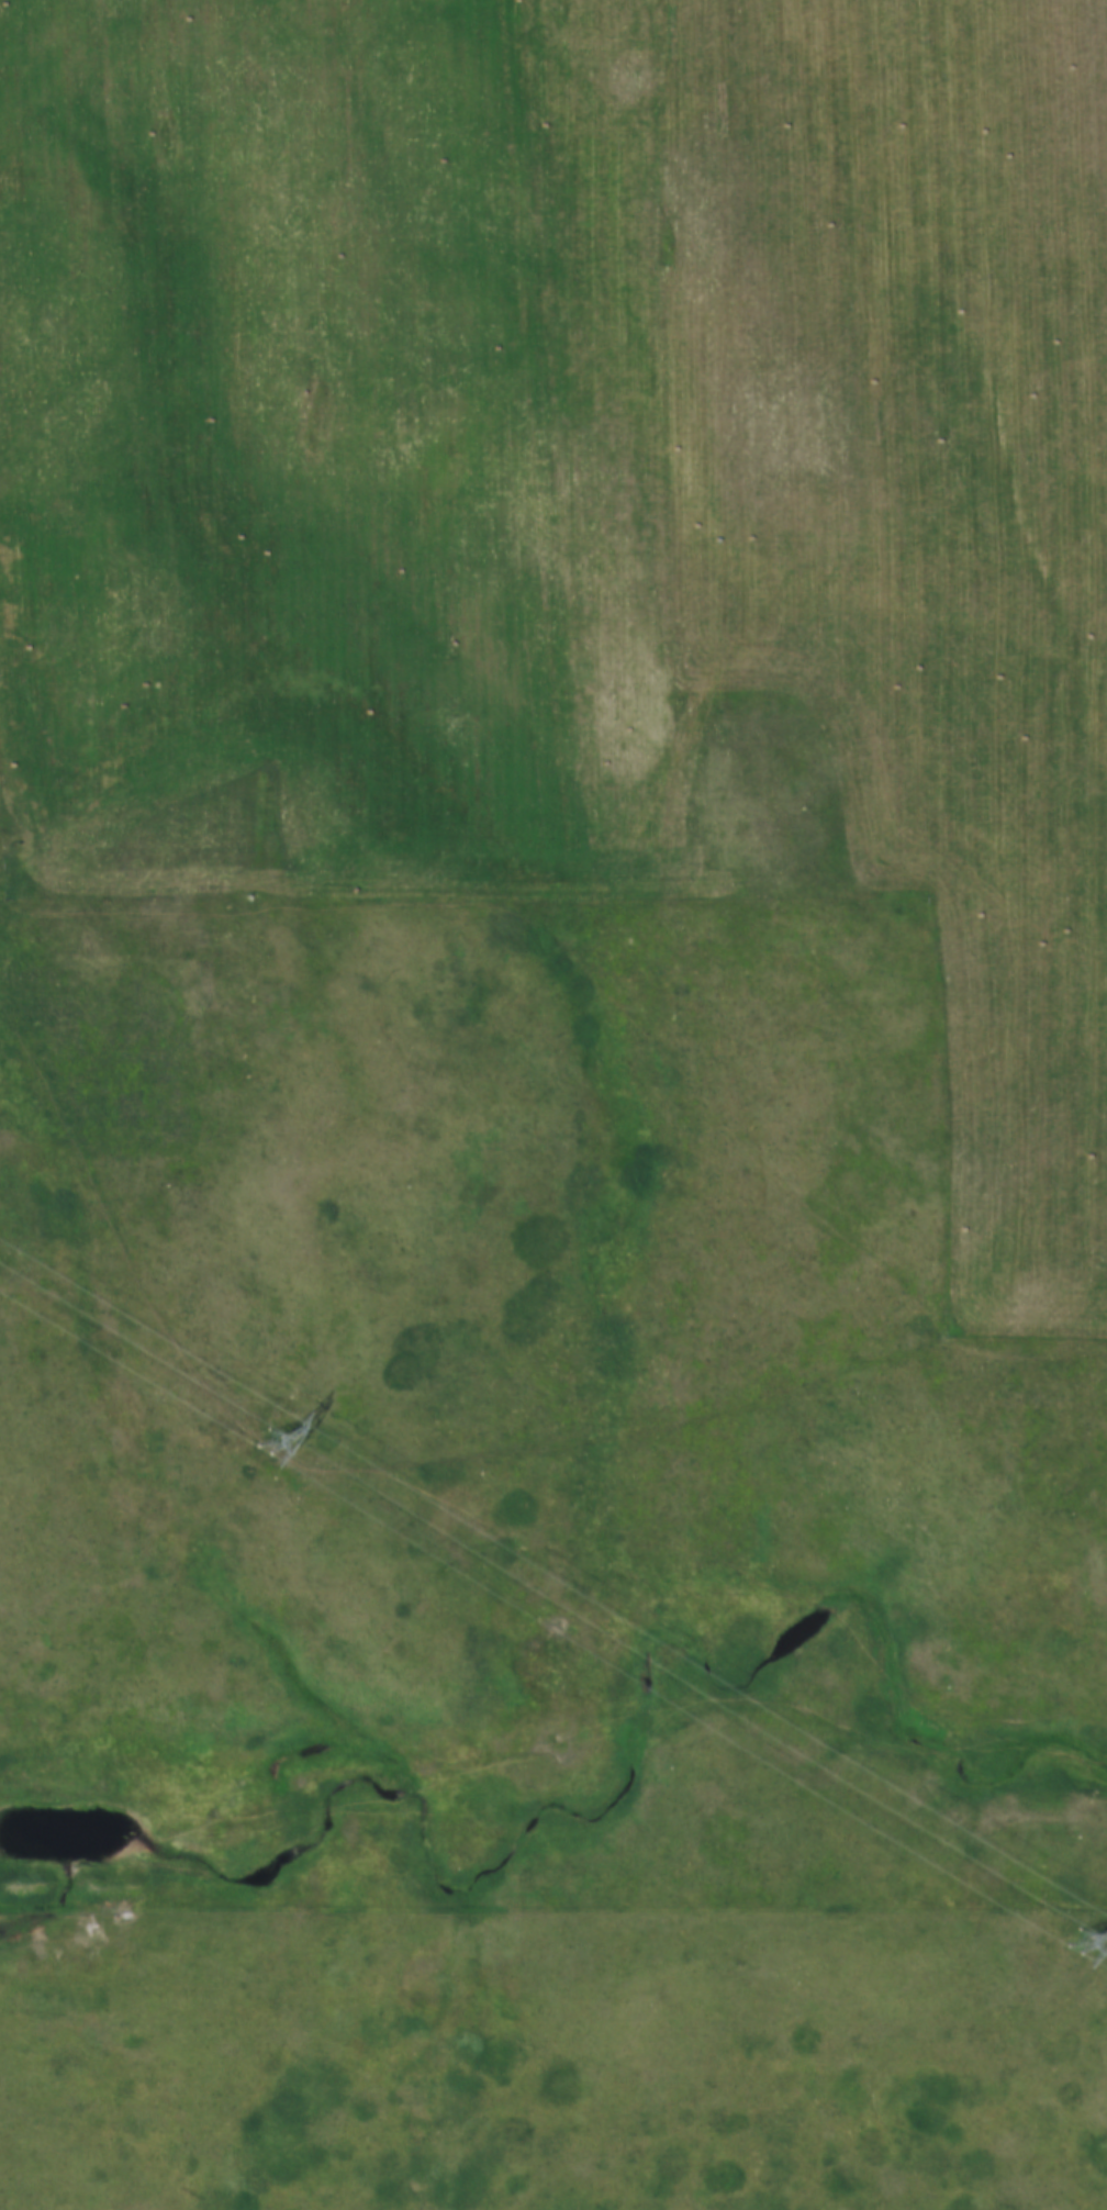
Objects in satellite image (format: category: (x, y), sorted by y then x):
power tower: (272, 1444)
power tower: (1083, 1941)

